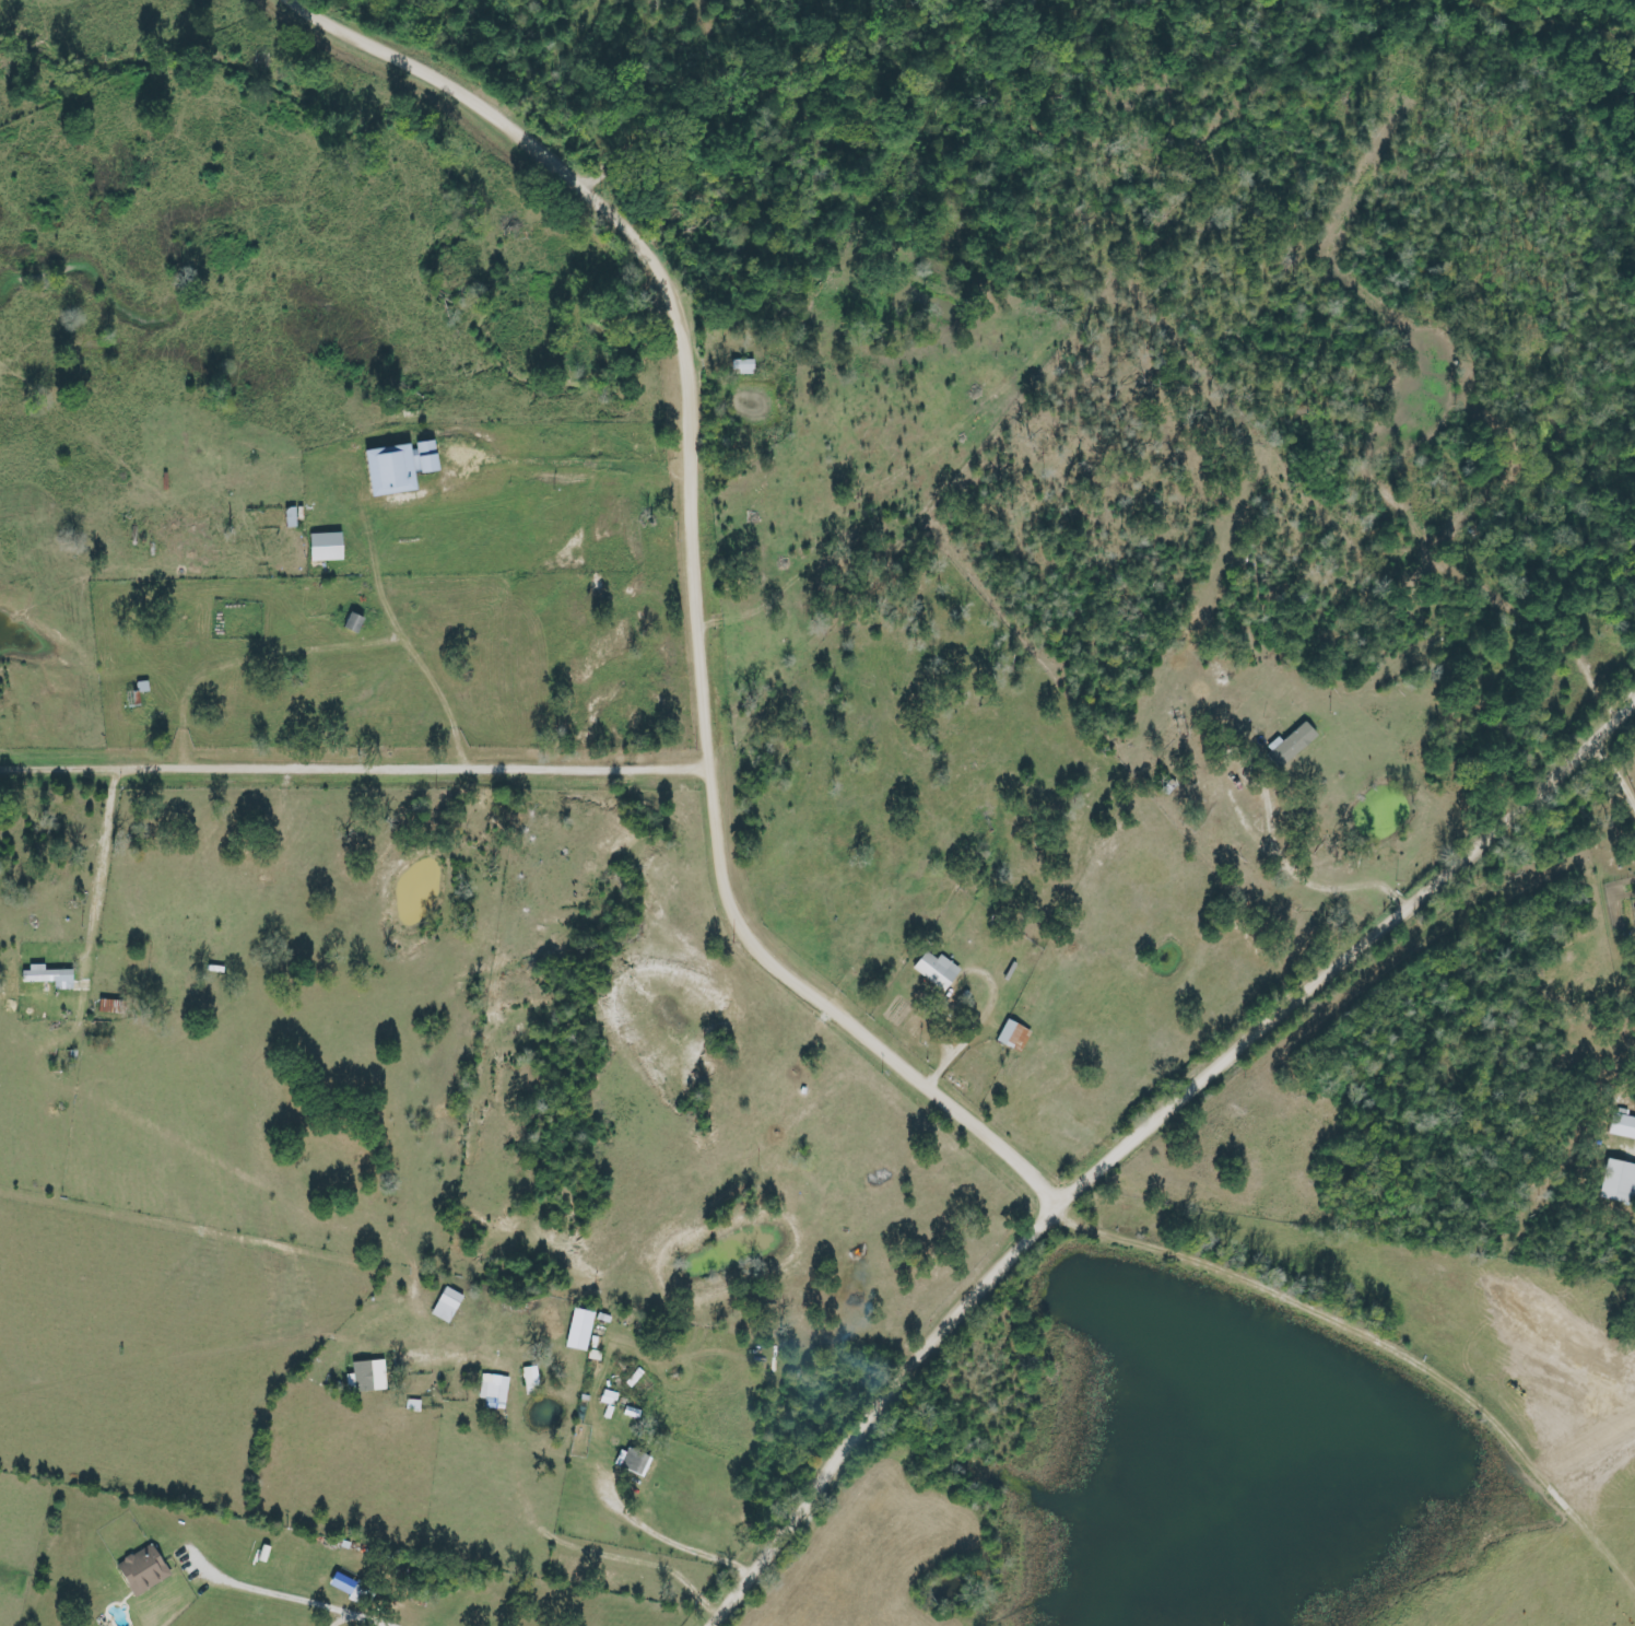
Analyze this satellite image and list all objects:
building: (741, 367)
building: (325, 547)
road: (707, 585)
building: (1291, 744)
road: (362, 773)
building: (936, 970)
building: (47, 976)
building: (1013, 1037)
building: (1622, 1127)
road: (1145, 1138)
building: (1618, 1183)
building: (446, 1306)
building: (368, 1377)
building: (530, 1381)
building: (493, 1388)
building: (412, 1404)
building: (634, 1463)
building: (141, 1570)
building: (341, 1583)

